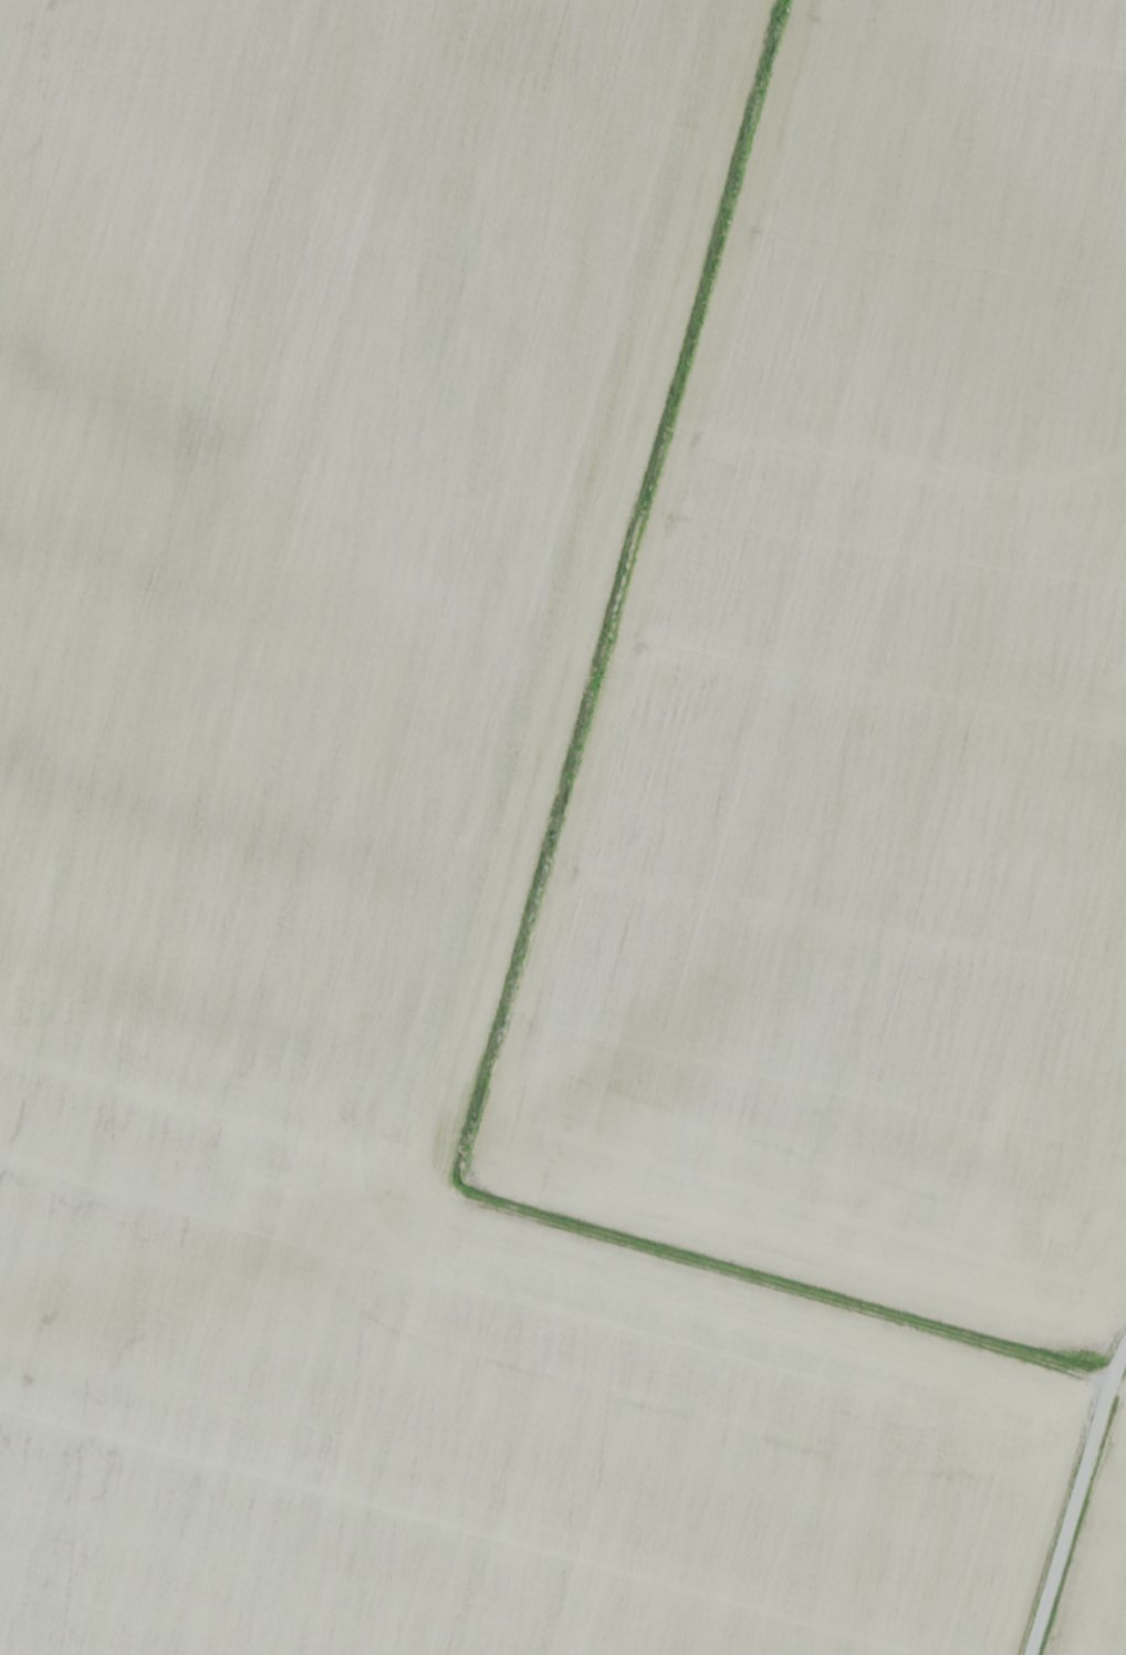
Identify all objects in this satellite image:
road: (1077, 1505)

